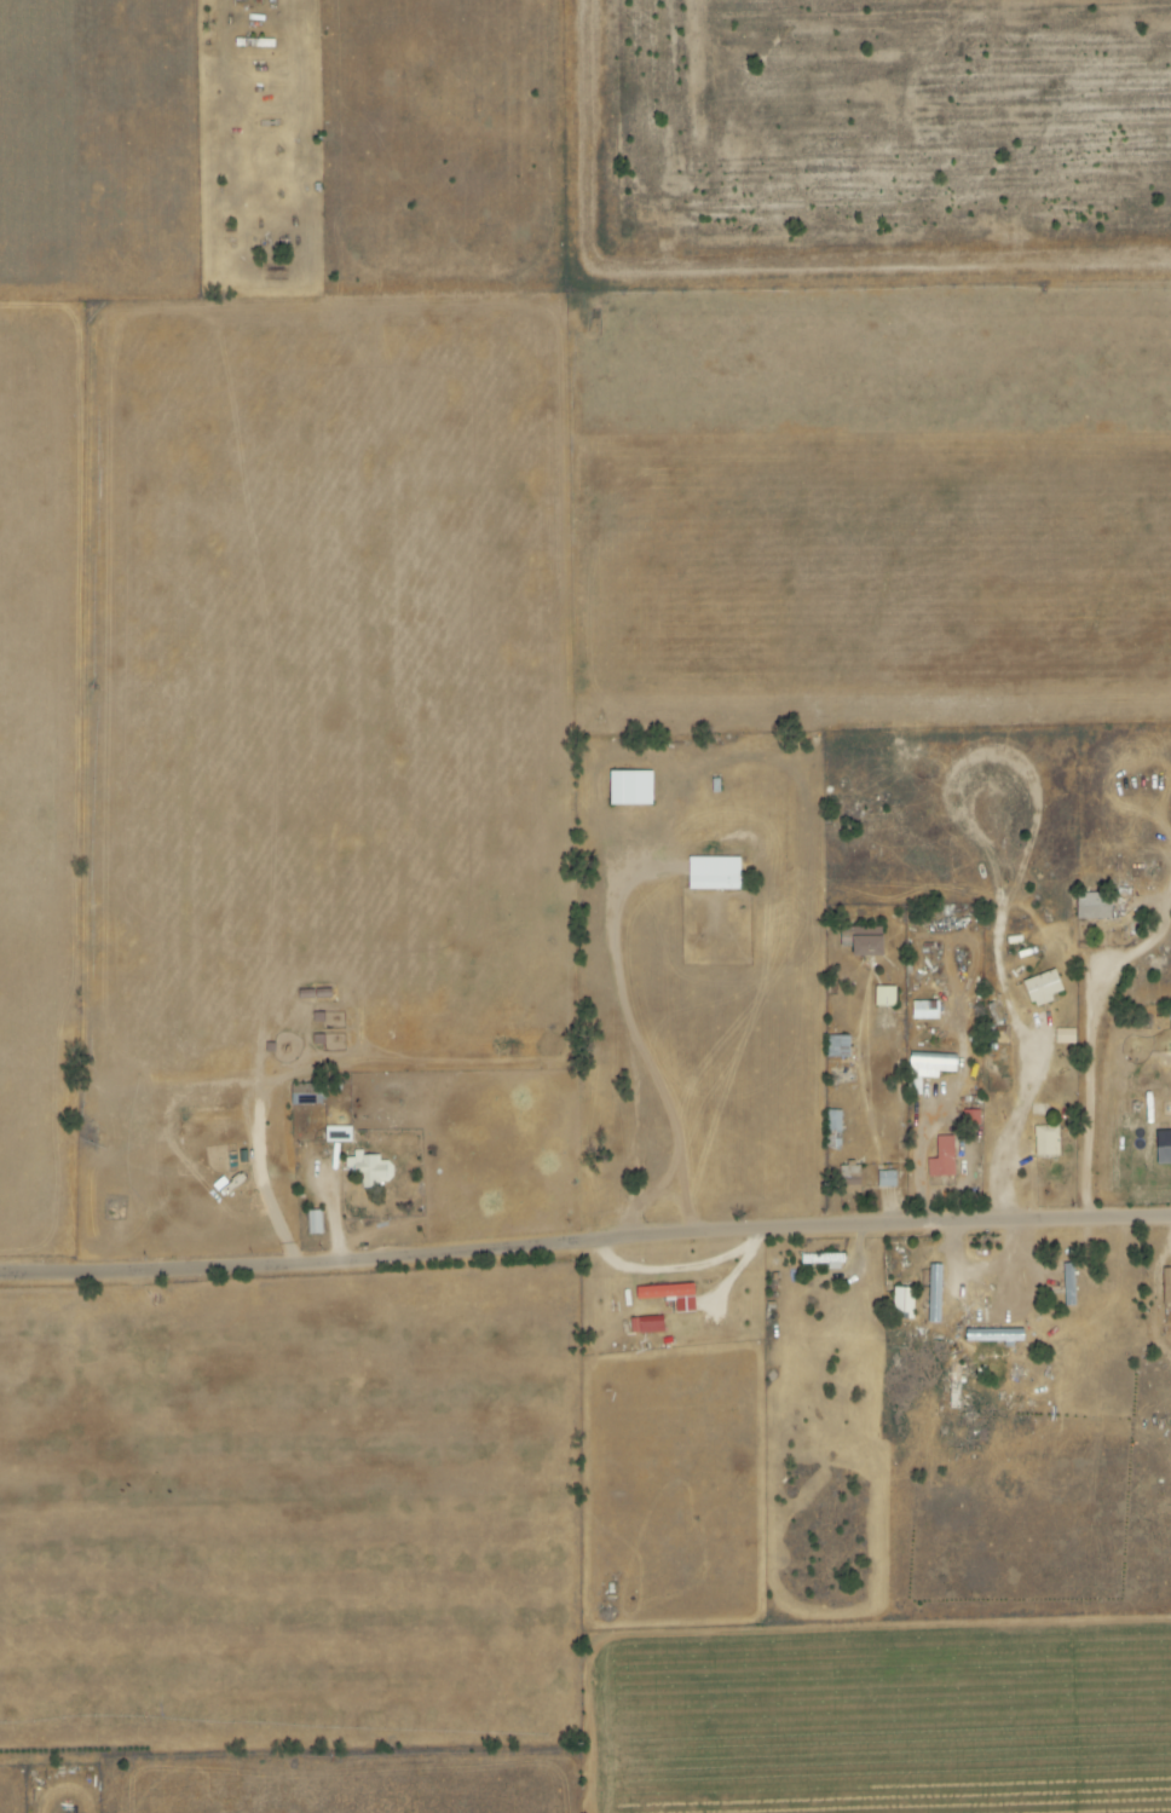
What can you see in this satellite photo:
building: (629, 789)
building: (713, 873)
building: (1092, 906)
building: (865, 942)
building: (1042, 988)
building: (884, 997)
building: (924, 1011)
building: (1170, 1014)
road: (633, 1033)
building: (1065, 1037)
building: (837, 1047)
building: (930, 1064)
road: (1097, 1103)
building: (832, 1121)
road: (911, 1128)
building: (338, 1134)
building: (1046, 1142)
building: (1163, 1148)
building: (941, 1159)
building: (369, 1170)
building: (886, 1179)
building: (849, 1180)
road: (334, 1195)
building: (313, 1223)
road: (584, 1242)
building: (1166, 1286)
building: (669, 1297)
building: (902, 1303)
building: (650, 1326)
building: (994, 1336)

